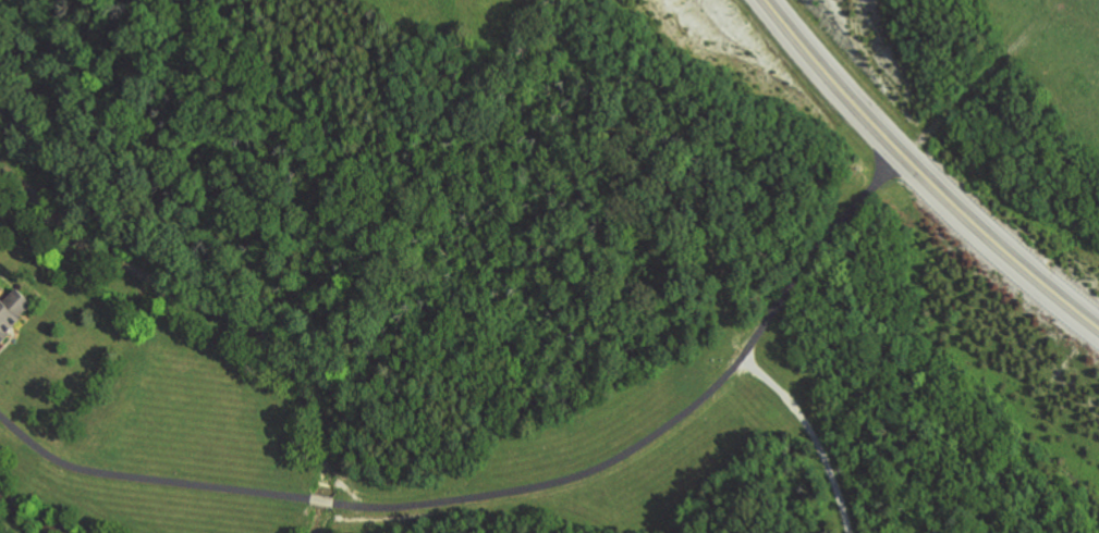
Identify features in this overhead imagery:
road: (966, 91)
road: (920, 172)
building: (12, 309)
road: (10, 340)
road: (672, 420)
road: (813, 434)
road: (145, 479)
road: (322, 500)

